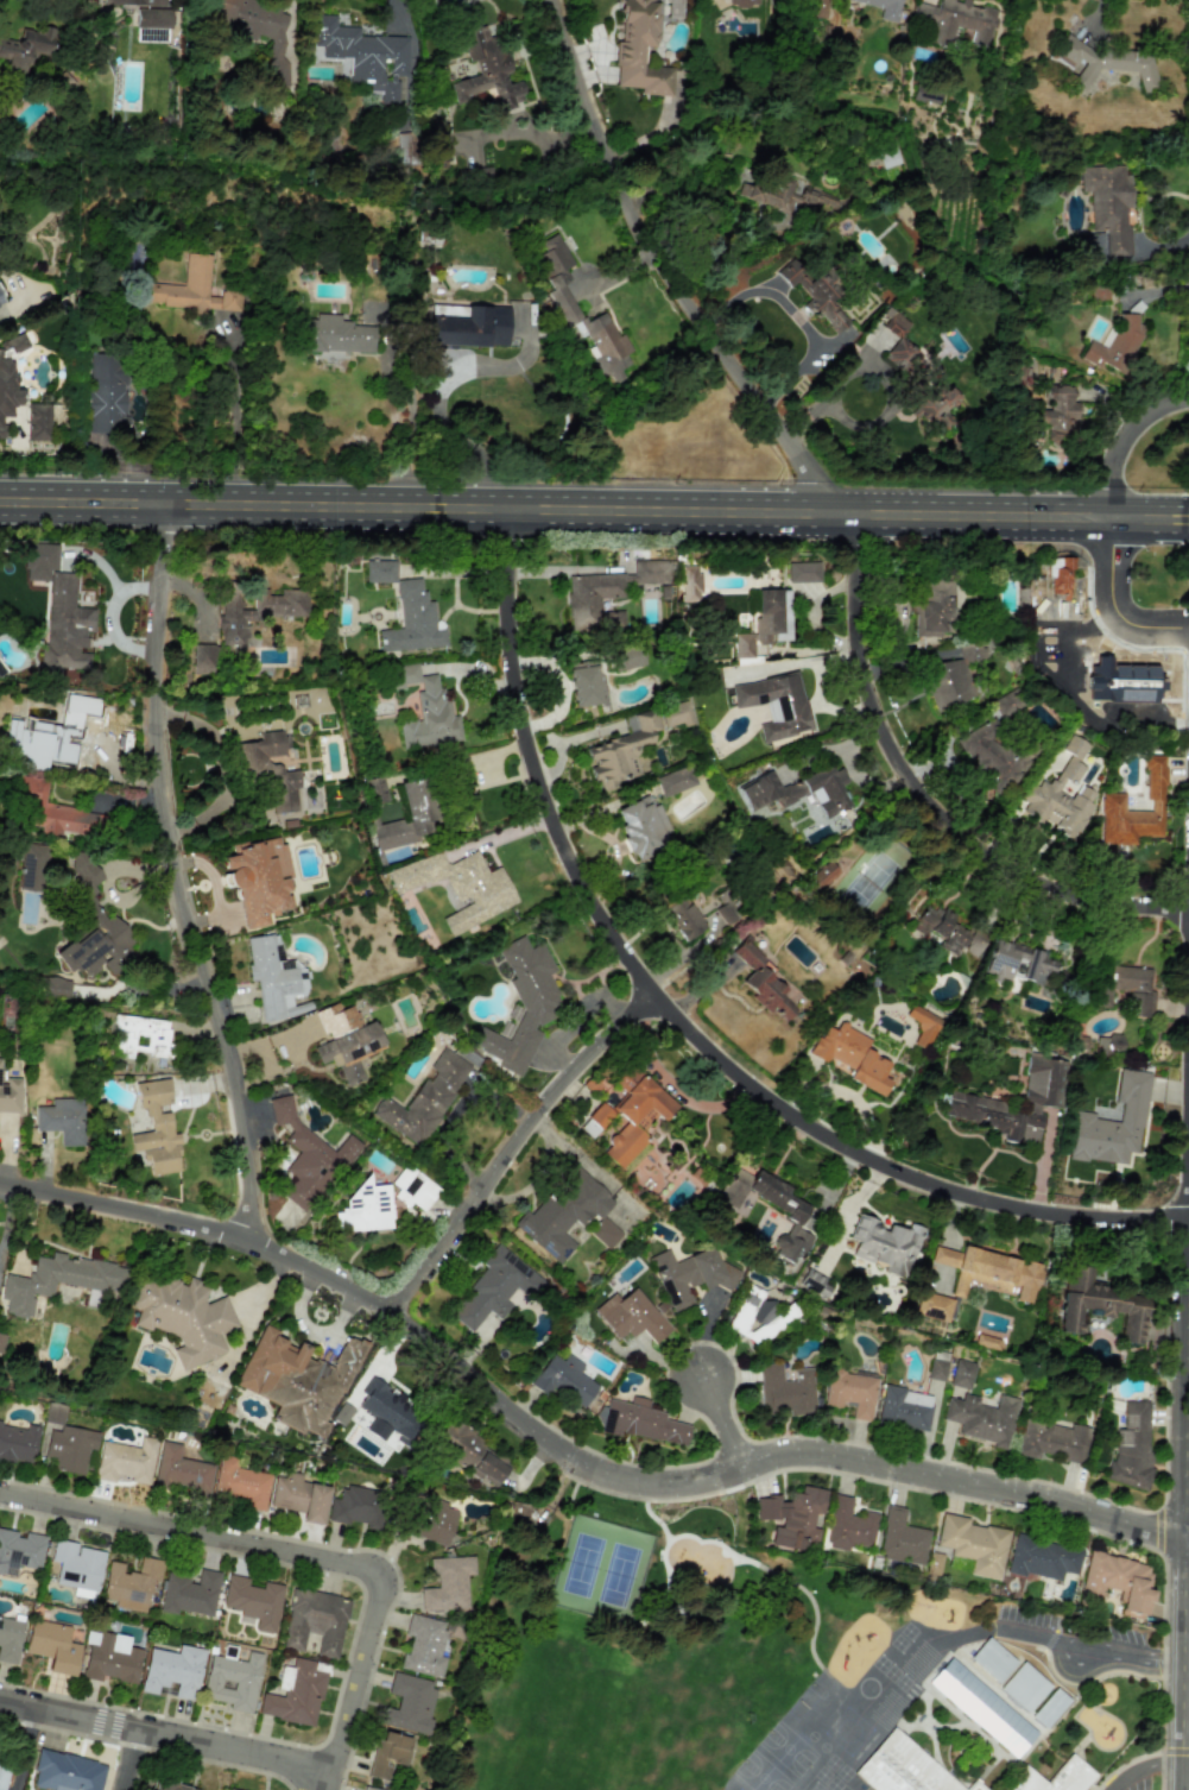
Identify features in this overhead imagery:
building: (133, 2)
building: (742, 2)
building: (816, 8)
building: (883, 8)
building: (152, 18)
building: (956, 20)
building: (254, 30)
building: (151, 34)
building: (25, 48)
building: (639, 50)
building: (362, 55)
building: (1102, 62)
building: (487, 70)
road: (526, 132)
building: (406, 147)
building: (887, 155)
building: (783, 195)
building: (1108, 209)
road: (670, 278)
building: (191, 289)
building: (814, 291)
building: (562, 297)
building: (1, 298)
road: (796, 316)
building: (893, 323)
building: (470, 327)
building: (337, 335)
building: (1114, 345)
building: (900, 353)
building: (10, 373)
building: (105, 392)
road: (826, 395)
building: (936, 406)
building: (1060, 412)
road: (435, 416)
road: (233, 421)
building: (38, 422)
road: (407, 430)
building: (1, 431)
road: (1122, 439)
road: (594, 510)
building: (380, 571)
building: (690, 572)
building: (803, 572)
building: (854, 572)
building: (1058, 575)
building: (607, 593)
road: (1107, 606)
building: (934, 609)
building: (255, 611)
building: (412, 620)
building: (764, 625)
building: (65, 626)
building: (626, 657)
building: (203, 658)
road: (1049, 672)
building: (953, 677)
building: (583, 683)
building: (776, 704)
building: (1007, 704)
building: (426, 710)
building: (675, 714)
building: (45, 746)
building: (620, 752)
building: (994, 757)
building: (268, 770)
building: (675, 781)
building: (374, 790)
building: (797, 790)
building: (1061, 794)
road: (925, 796)
building: (1112, 801)
building: (52, 812)
building: (407, 815)
building: (641, 827)
building: (32, 866)
building: (822, 875)
road: (178, 876)
building: (259, 880)
building: (458, 887)
building: (682, 916)
building: (93, 926)
building: (945, 931)
building: (1016, 963)
building: (274, 979)
building: (761, 982)
building: (55, 987)
building: (1124, 988)
building: (523, 1004)
road: (687, 1020)
building: (922, 1026)
building: (139, 1036)
building: (346, 1040)
building: (1115, 1041)
building: (852, 1057)
building: (10, 1095)
building: (1041, 1096)
building: (424, 1098)
building: (634, 1114)
building: (62, 1120)
building: (595, 1120)
building: (1113, 1123)
building: (156, 1129)
road: (518, 1145)
building: (308, 1158)
building: (413, 1189)
building: (366, 1209)
building: (795, 1215)
building: (568, 1216)
building: (885, 1244)
building: (988, 1272)
building: (690, 1275)
building: (57, 1280)
building: (812, 1284)
building: (494, 1288)
building: (1100, 1304)
building: (932, 1306)
building: (753, 1315)
building: (631, 1316)
building: (183, 1317)
building: (1, 1341)
building: (986, 1342)
building: (937, 1368)
building: (962, 1374)
building: (563, 1378)
building: (297, 1380)
building: (785, 1391)
building: (208, 1392)
building: (850, 1392)
building: (387, 1408)
building: (904, 1408)
building: (982, 1418)
road: (733, 1419)
building: (641, 1422)
building: (1052, 1441)
building: (18, 1443)
building: (1132, 1445)
building: (70, 1448)
road: (567, 1452)
building: (473, 1454)
building: (125, 1461)
building: (181, 1470)
building: (239, 1483)
building: (299, 1498)
building: (356, 1506)
building: (792, 1517)
building: (435, 1521)
building: (848, 1526)
building: (900, 1538)
building: (973, 1544)
building: (19, 1551)
road: (293, 1555)
building: (1042, 1558)
building: (76, 1565)
building: (1118, 1582)
building: (131, 1583)
building: (447, 1583)
building: (190, 1593)
building: (253, 1601)
building: (315, 1621)
building: (10, 1639)
road: (1093, 1639)
park: (639, 1643)
building: (52, 1646)
building: (423, 1646)
building: (109, 1658)
building: (992, 1659)
road: (1081, 1664)
building: (172, 1670)
building: (232, 1679)
building: (1024, 1687)
building: (293, 1694)
building: (409, 1703)
building: (981, 1707)
building: (1049, 1708)
road: (165, 1738)
road: (24, 1750)
building: (387, 1753)
road: (128, 1760)
building: (902, 1767)
road: (1146, 1767)
building: (65, 1772)
building: (2, 1775)
building: (1054, 1777)
road: (330, 1780)
building: (169, 1786)
building: (229, 1789)
building: (368, 1789)

